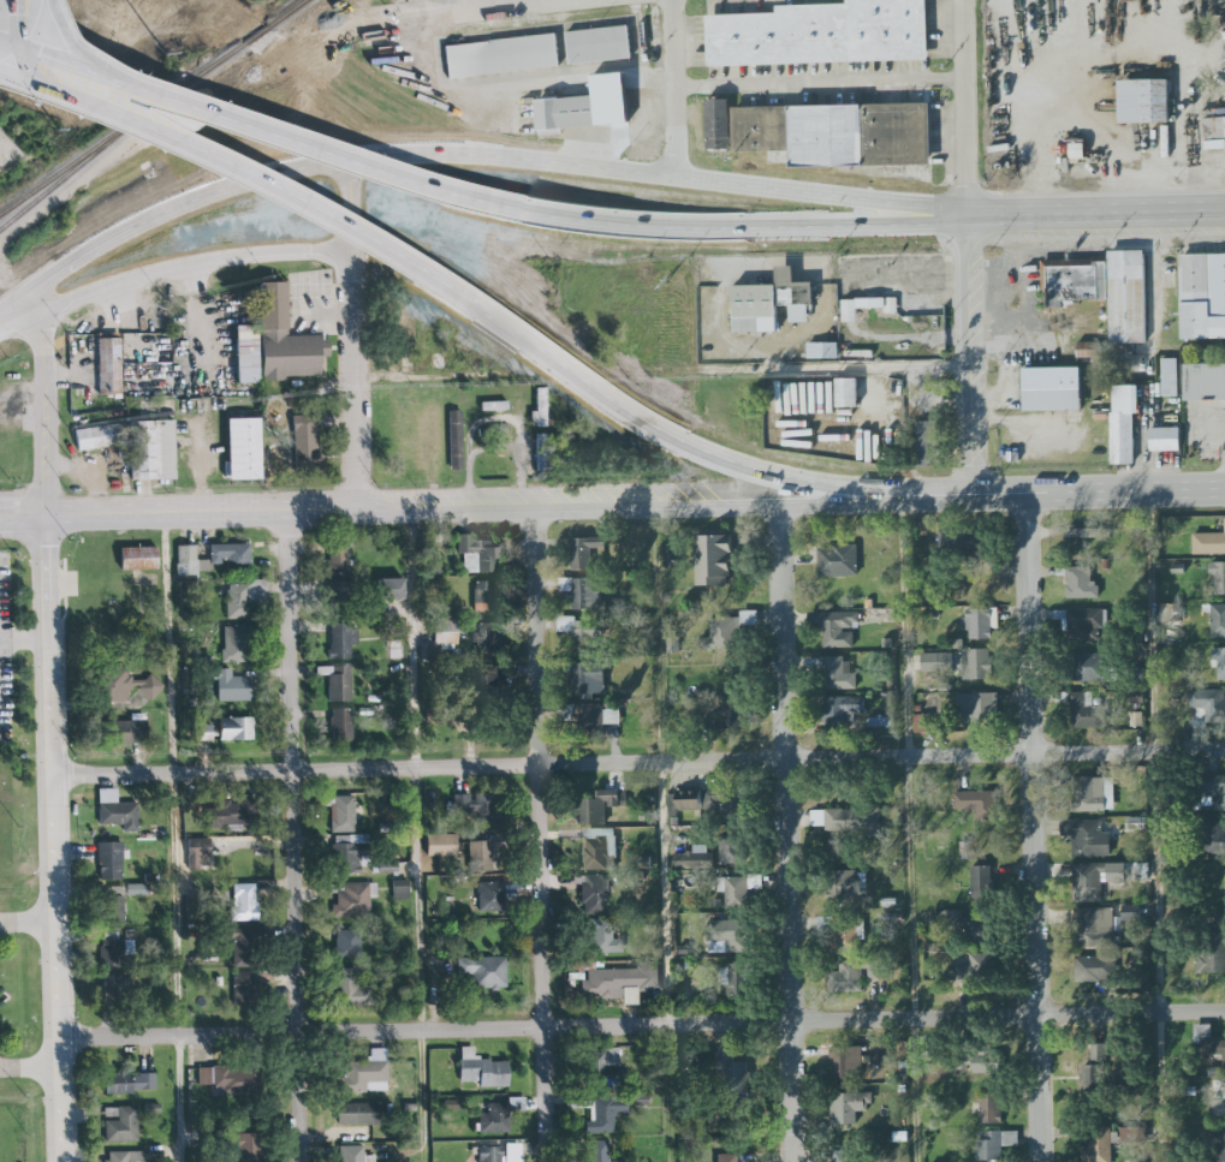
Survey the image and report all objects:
road: (504, 6)
railway: (283, 11)
road: (5, 22)
railway: (252, 34)
building: (821, 34)
building: (599, 44)
building: (501, 55)
building: (1224, 79)
road: (751, 85)
road: (680, 89)
building: (1144, 101)
road: (970, 107)
building: (566, 114)
building: (718, 124)
building: (620, 132)
railway: (121, 133)
building: (832, 136)
building: (1202, 136)
road: (471, 154)
road: (225, 160)
road: (367, 162)
building: (363, 165)
road: (349, 204)
road: (1100, 213)
road: (858, 222)
road: (171, 267)
road: (911, 290)
building: (1104, 290)
building: (1202, 297)
building: (771, 303)
building: (867, 306)
building: (285, 339)
building: (822, 350)
road: (974, 350)
building: (1088, 350)
building: (246, 353)
building: (438, 360)
building: (109, 367)
road: (839, 369)
road: (356, 377)
road: (421, 377)
building: (1171, 377)
building: (1205, 381)
building: (1053, 389)
building: (848, 393)
building: (493, 405)
building: (540, 407)
road: (495, 419)
building: (1124, 424)
building: (97, 436)
building: (483, 436)
building: (1166, 439)
building: (454, 440)
building: (305, 441)
building: (928, 442)
building: (242, 448)
building: (153, 449)
building: (542, 453)
road: (730, 469)
road: (1147, 485)
road: (715, 507)
road: (179, 510)
building: (1089, 532)
building: (955, 542)
building: (1209, 543)
building: (584, 552)
building: (477, 553)
building: (231, 555)
building: (138, 558)
building: (337, 559)
building: (713, 560)
building: (674, 561)
building: (839, 561)
building: (1218, 578)
building: (1081, 583)
building: (391, 588)
building: (578, 595)
building: (483, 596)
building: (244, 597)
building: (340, 597)
building: (1218, 620)
building: (980, 624)
building: (1086, 625)
building: (837, 626)
building: (729, 631)
building: (445, 632)
building: (582, 633)
building: (487, 637)
building: (341, 640)
road: (26, 643)
building: (234, 643)
building: (393, 649)
building: (934, 662)
building: (1219, 662)
building: (977, 665)
building: (1089, 667)
building: (837, 673)
building: (490, 679)
building: (588, 680)
building: (338, 681)
building: (125, 684)
building: (231, 686)
building: (1134, 697)
building: (1209, 704)
building: (979, 708)
building: (735, 710)
building: (435, 711)
building: (842, 711)
building: (1087, 714)
building: (585, 717)
building: (880, 719)
building: (1134, 720)
building: (341, 725)
building: (236, 728)
building: (123, 732)
building: (202, 732)
road: (55, 734)
road: (641, 762)
building: (1215, 789)
building: (1088, 797)
building: (710, 800)
building: (979, 804)
building: (1176, 804)
building: (596, 808)
building: (480, 809)
building: (115, 810)
building: (232, 814)
building: (343, 815)
building: (845, 821)
building: (1137, 823)
road: (1159, 823)
road: (1036, 830)
road: (914, 832)
road: (293, 834)
road: (787, 834)
road: (661, 835)
building: (1214, 835)
road: (173, 836)
road: (541, 836)
road: (418, 838)
building: (1088, 838)
building: (441, 844)
building: (600, 848)
building: (732, 850)
building: (198, 852)
building: (349, 854)
building: (480, 856)
building: (696, 858)
building: (111, 860)
building: (388, 868)
building: (1089, 882)
building: (982, 883)
building: (846, 886)
building: (138, 889)
building: (399, 889)
building: (732, 893)
building: (594, 895)
building: (490, 896)
building: (352, 899)
building: (115, 902)
building: (244, 904)
building: (1136, 912)
building: (959, 924)
road: (30, 928)
building: (1095, 928)
building: (726, 934)
building: (846, 934)
building: (601, 936)
building: (347, 943)
building: (243, 945)
building: (1212, 949)
building: (115, 951)
building: (1096, 969)
building: (975, 970)
building: (483, 971)
building: (848, 978)
building: (733, 979)
building: (620, 982)
building: (115, 984)
building: (244, 987)
building: (350, 989)
building: (403, 999)
road: (643, 1026)
building: (1209, 1044)
building: (881, 1055)
building: (979, 1061)
building: (846, 1062)
building: (605, 1066)
road: (31, 1069)
building: (481, 1069)
building: (1093, 1069)
building: (365, 1073)
building: (733, 1077)
building: (228, 1079)
building: (129, 1081)
building: (1219, 1106)
building: (849, 1107)
building: (988, 1108)
building: (363, 1114)
building: (496, 1114)
building: (607, 1115)
building: (120, 1124)
building: (1132, 1134)
building: (1220, 1143)
building: (1099, 1146)
building: (246, 1148)
building: (991, 1148)
building: (597, 1151)
building: (353, 1154)
building: (490, 1155)
building: (126, 1156)
building: (726, 1157)
building: (845, 1157)

